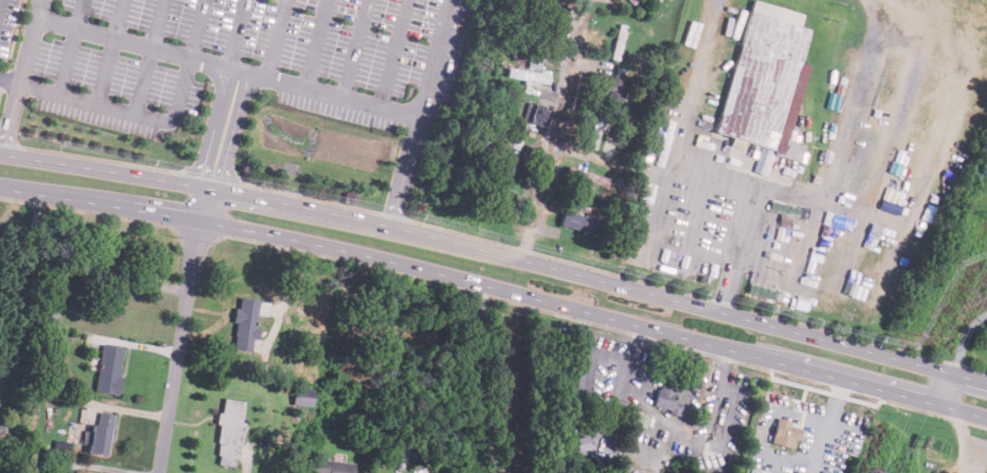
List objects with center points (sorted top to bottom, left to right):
building: (630, 2)
road: (78, 12)
road: (119, 17)
road: (158, 21)
road: (196, 26)
road: (236, 31)
road: (277, 36)
road: (317, 41)
building: (619, 41)
road: (356, 46)
road: (394, 51)
road: (65, 59)
road: (229, 62)
road: (105, 69)
road: (21, 76)
building: (527, 76)
road: (143, 78)
building: (765, 78)
road: (9, 81)
building: (619, 87)
road: (129, 112)
road: (419, 112)
building: (535, 113)
road: (222, 127)
road: (553, 129)
building: (511, 156)
building: (589, 177)
building: (507, 199)
building: (579, 222)
road: (737, 248)
road: (497, 252)
road: (497, 288)
building: (246, 322)
road: (180, 330)
building: (108, 369)
road: (469, 381)
road: (718, 390)
road: (945, 390)
building: (302, 396)
building: (665, 398)
road: (733, 407)
road: (659, 418)
building: (231, 431)
building: (99, 433)
building: (784, 434)
building: (580, 443)
building: (330, 466)
building: (80, 471)

